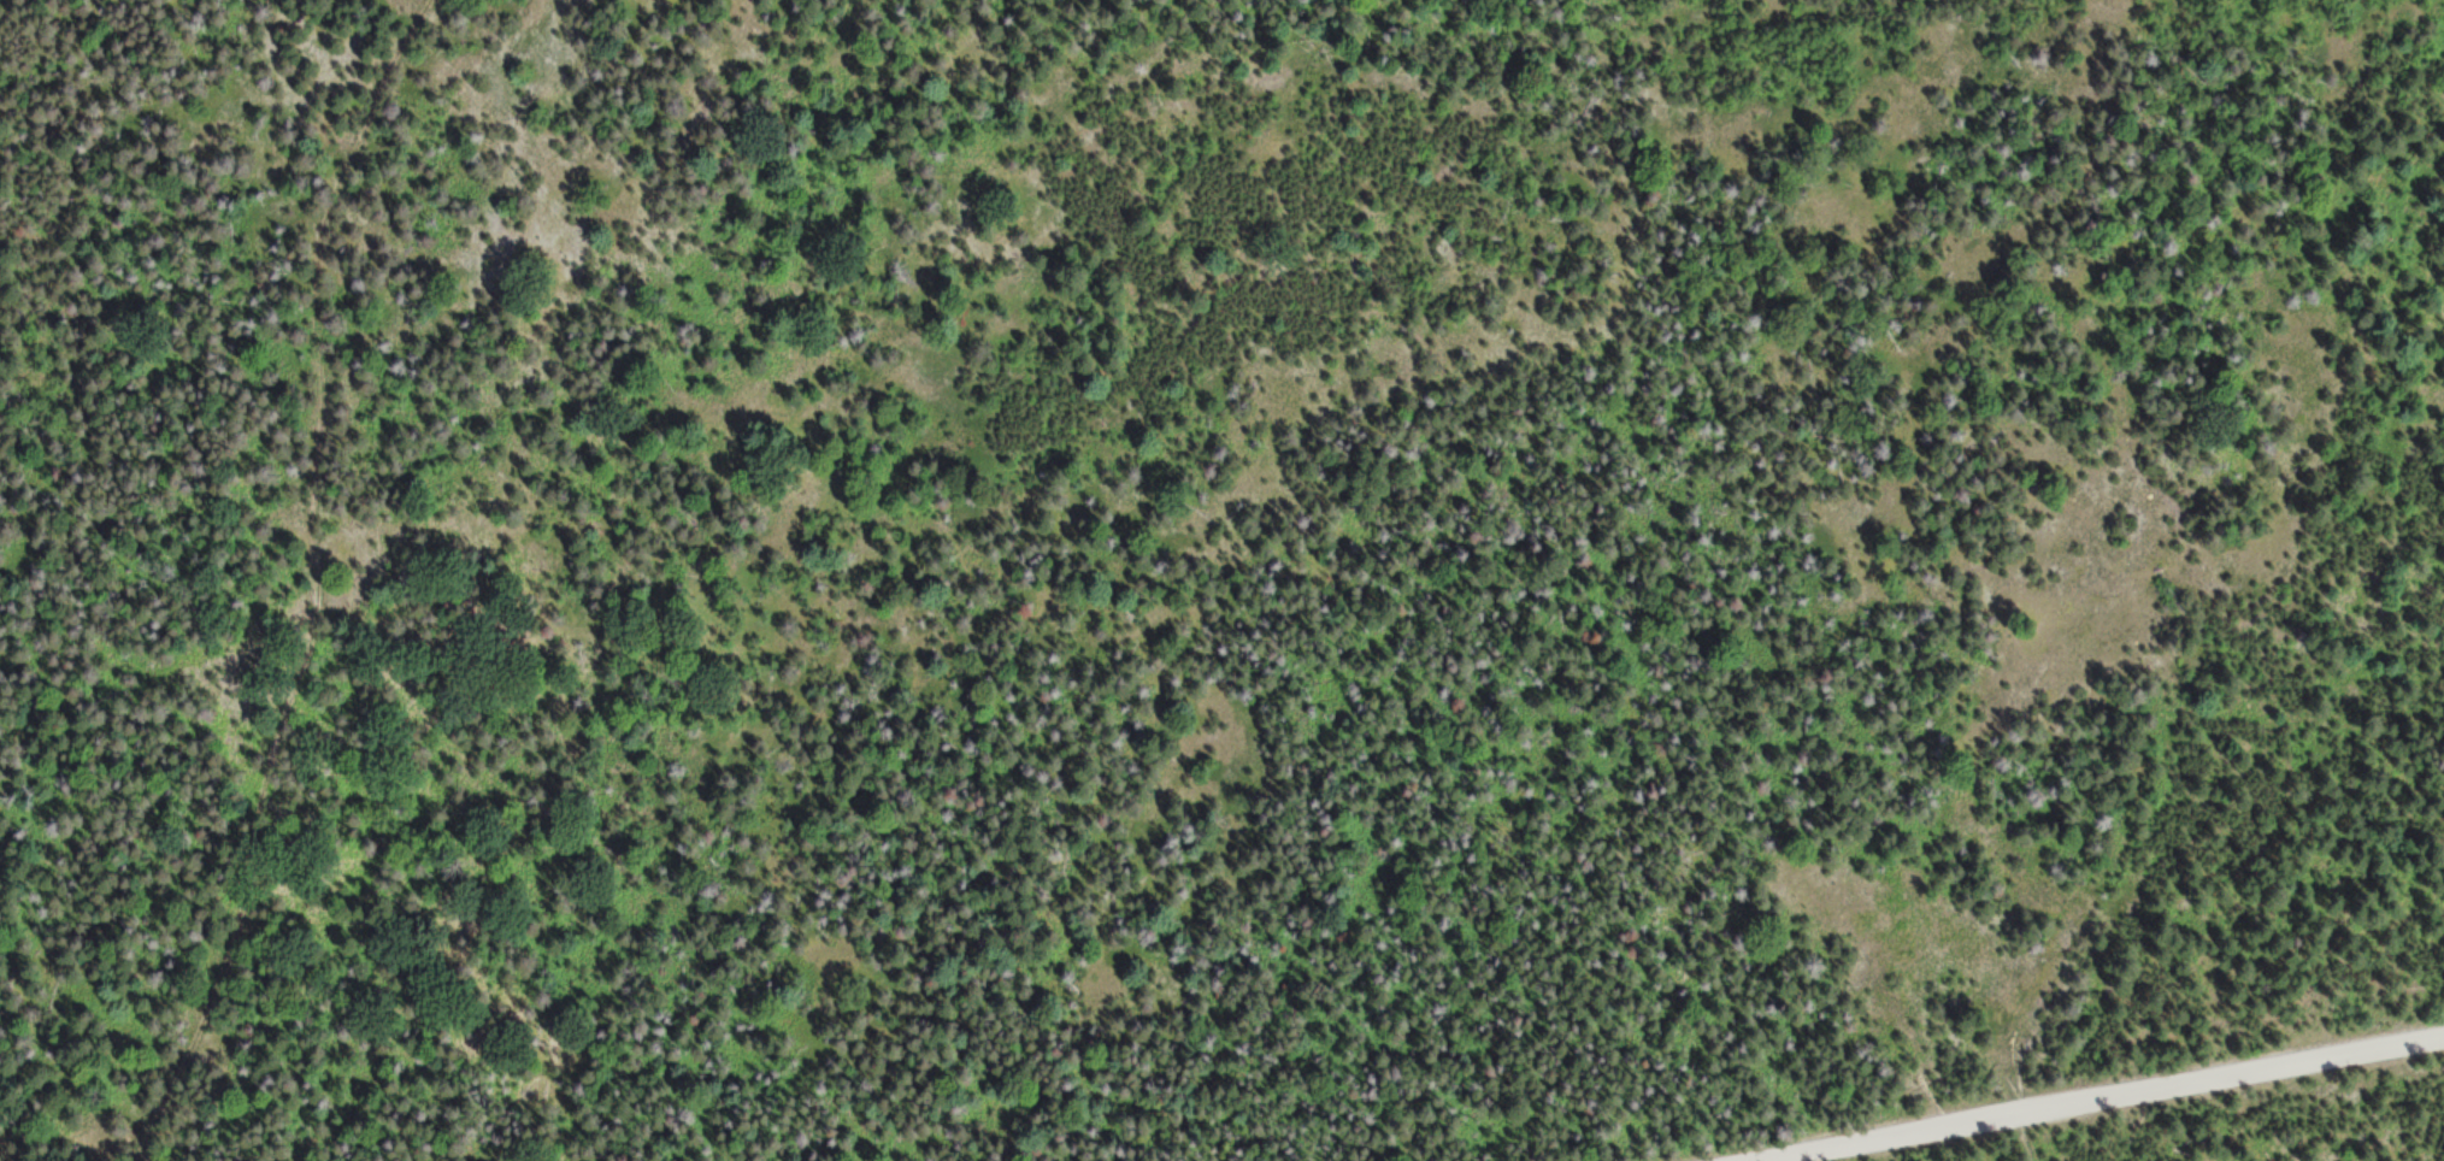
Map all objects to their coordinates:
road: (2091, 1096)

